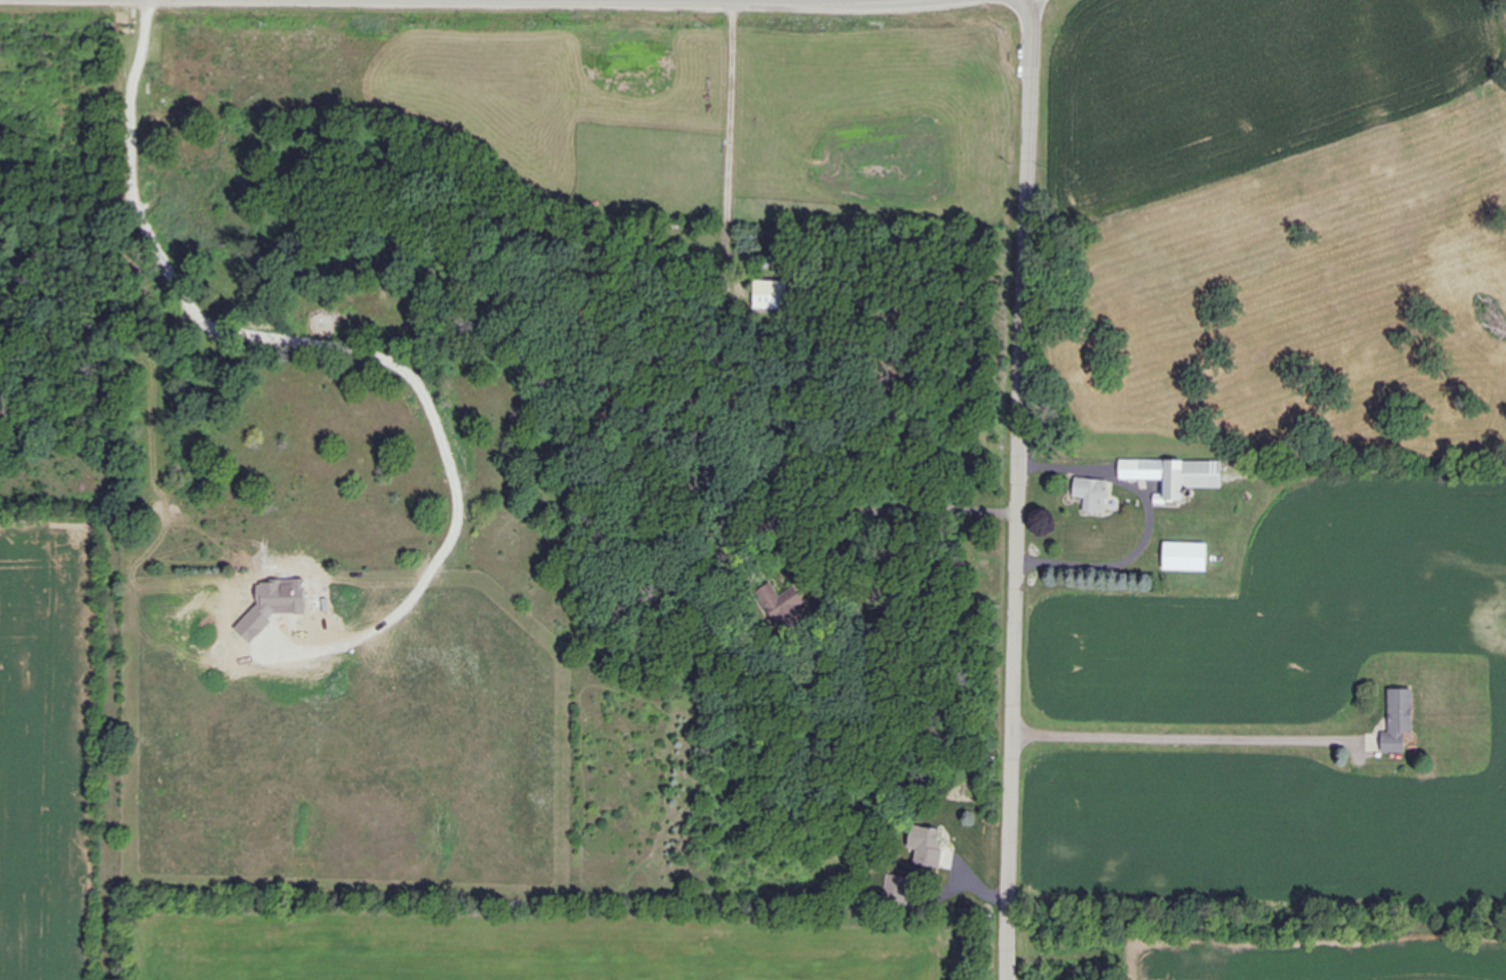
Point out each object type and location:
road: (735, 108)
building: (772, 295)
building: (1176, 475)
road: (1022, 489)
building: (1094, 494)
building: (1186, 556)
road: (1116, 567)
building: (771, 594)
building: (1401, 720)
road: (1192, 740)
building: (932, 847)

